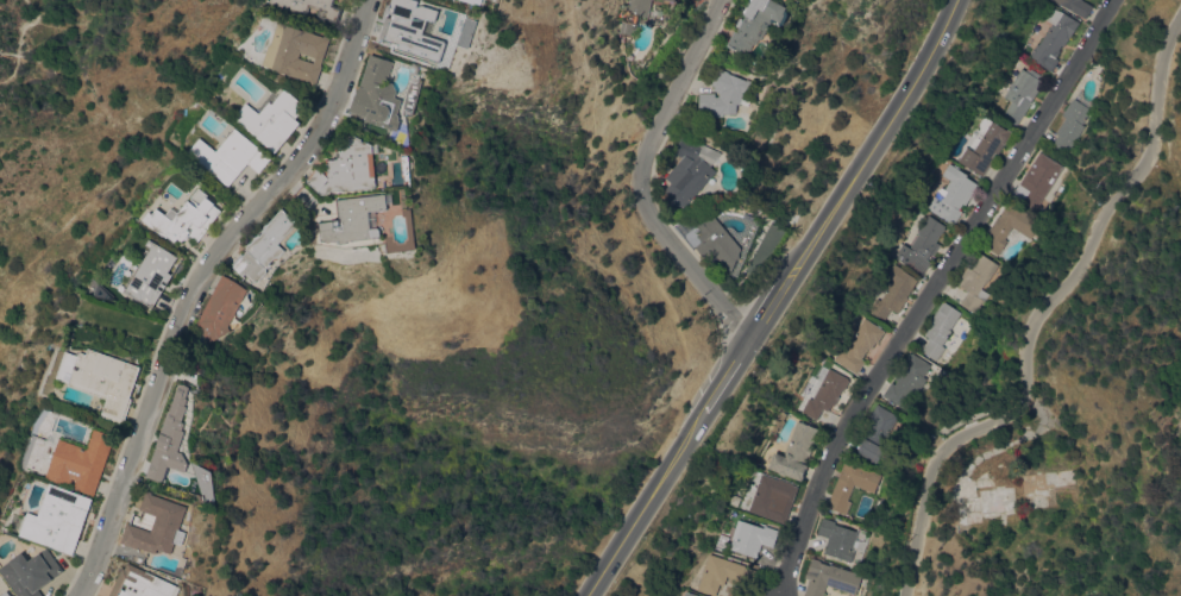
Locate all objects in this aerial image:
building: (671, 0)
building: (473, 1)
building: (1076, 6)
building: (328, 12)
building: (633, 15)
building: (755, 23)
building: (410, 27)
building: (1054, 38)
building: (296, 52)
road: (31, 58)
building: (725, 93)
building: (1022, 93)
building: (378, 94)
building: (272, 118)
building: (1072, 123)
building: (985, 148)
building: (230, 156)
building: (348, 168)
building: (690, 171)
road: (640, 178)
building: (1038, 178)
building: (953, 194)
building: (186, 218)
building: (356, 218)
building: (1009, 226)
building: (716, 241)
building: (922, 245)
building: (265, 246)
building: (151, 272)
road: (201, 281)
building: (976, 281)
road: (931, 290)
building: (894, 291)
road: (777, 299)
building: (221, 308)
road: (1036, 314)
building: (940, 328)
building: (859, 345)
building: (102, 378)
building: (907, 381)
building: (836, 388)
building: (170, 438)
building: (878, 438)
building: (794, 451)
building: (81, 460)
building: (850, 484)
building: (773, 497)
building: (57, 519)
building: (157, 526)
building: (750, 535)
building: (836, 538)
building: (30, 572)
building: (722, 573)
building: (829, 578)
building: (140, 583)
building: (5, 594)
building: (689, 594)
building: (11, 595)

